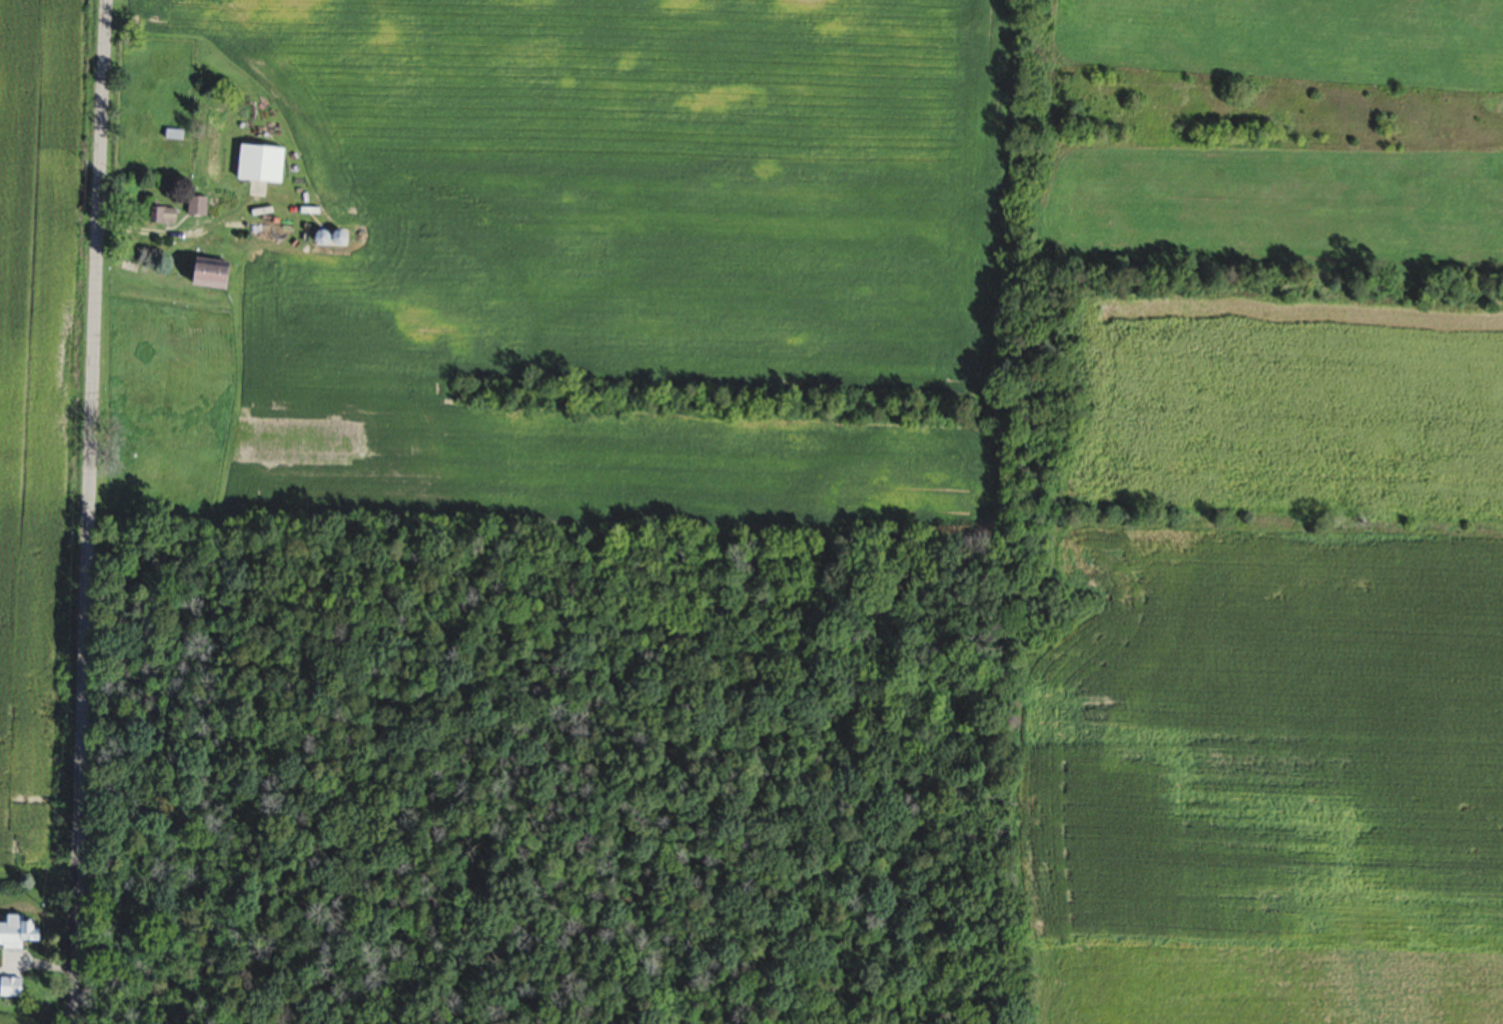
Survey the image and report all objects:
building: (256, 163)
building: (195, 205)
building: (159, 215)
building: (201, 274)
road: (87, 512)
building: (15, 933)
building: (9, 989)

